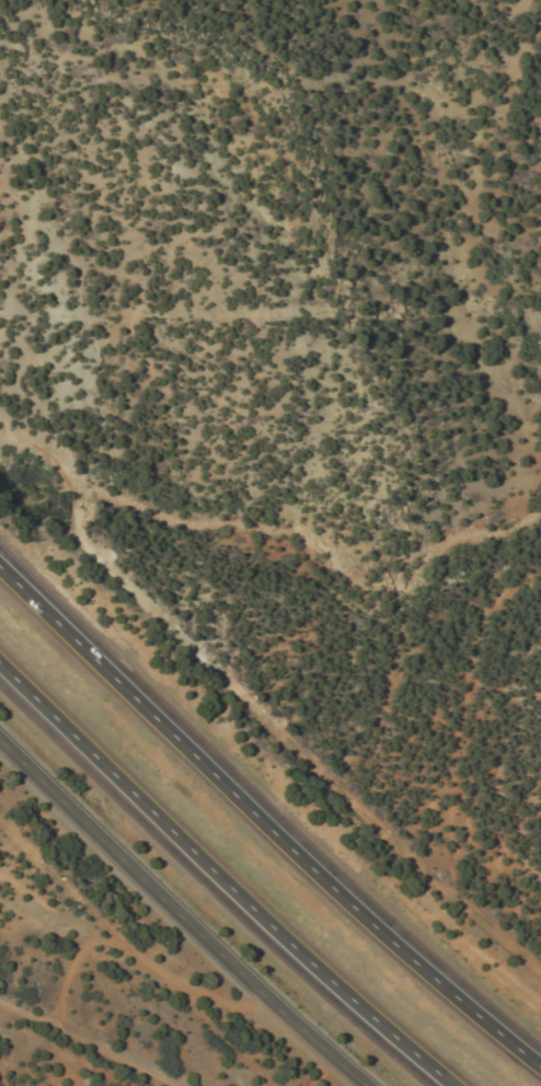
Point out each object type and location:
road: (264, 825)
road: (220, 880)
road: (182, 914)

